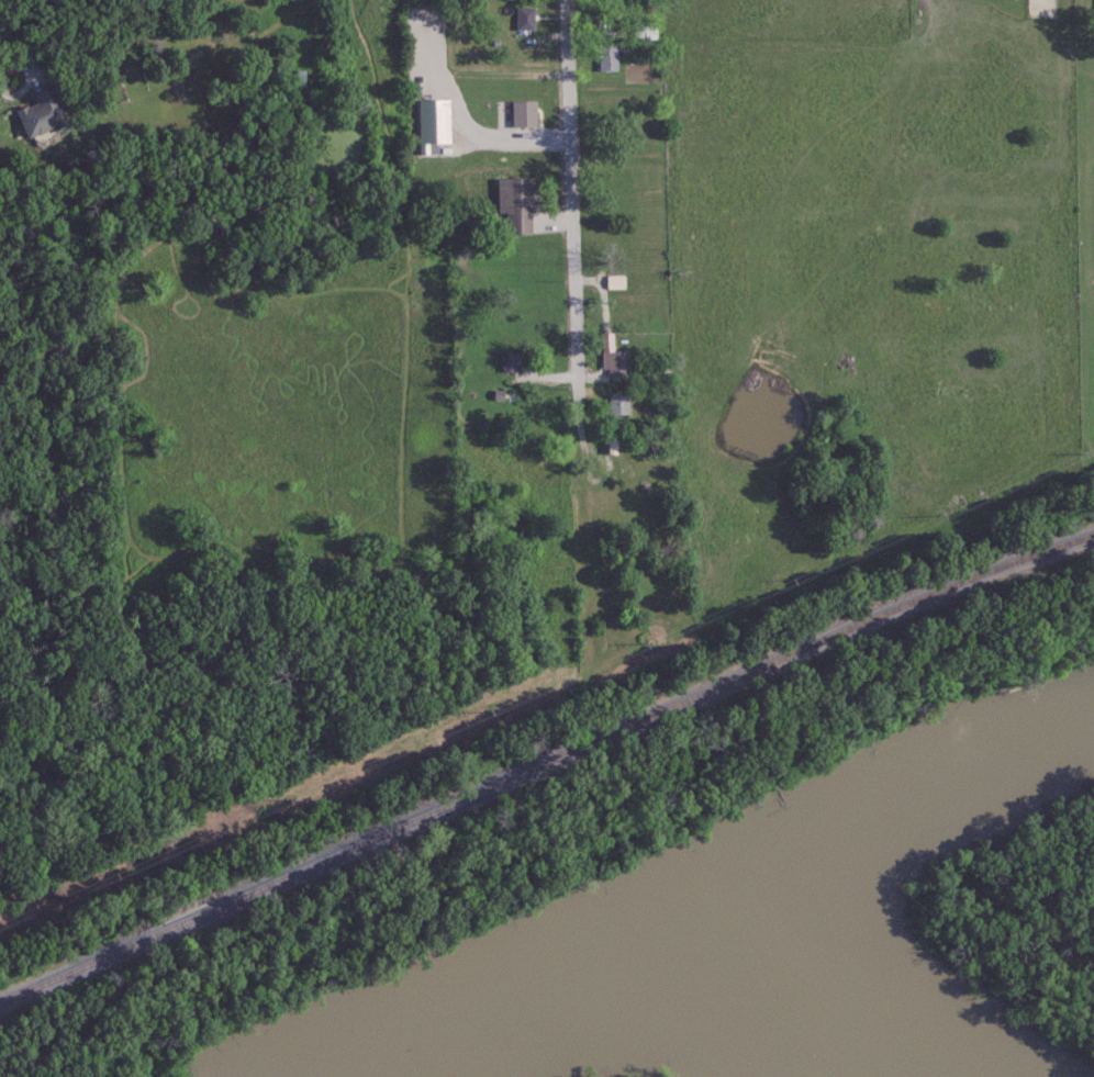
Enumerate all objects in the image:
building: (525, 18)
building: (609, 57)
road: (23, 74)
road: (483, 76)
road: (395, 100)
building: (43, 113)
building: (524, 113)
building: (433, 124)
road: (573, 188)
building: (518, 203)
building: (616, 282)
building: (614, 358)
building: (511, 362)
building: (619, 404)
building: (613, 445)
railway: (544, 762)

